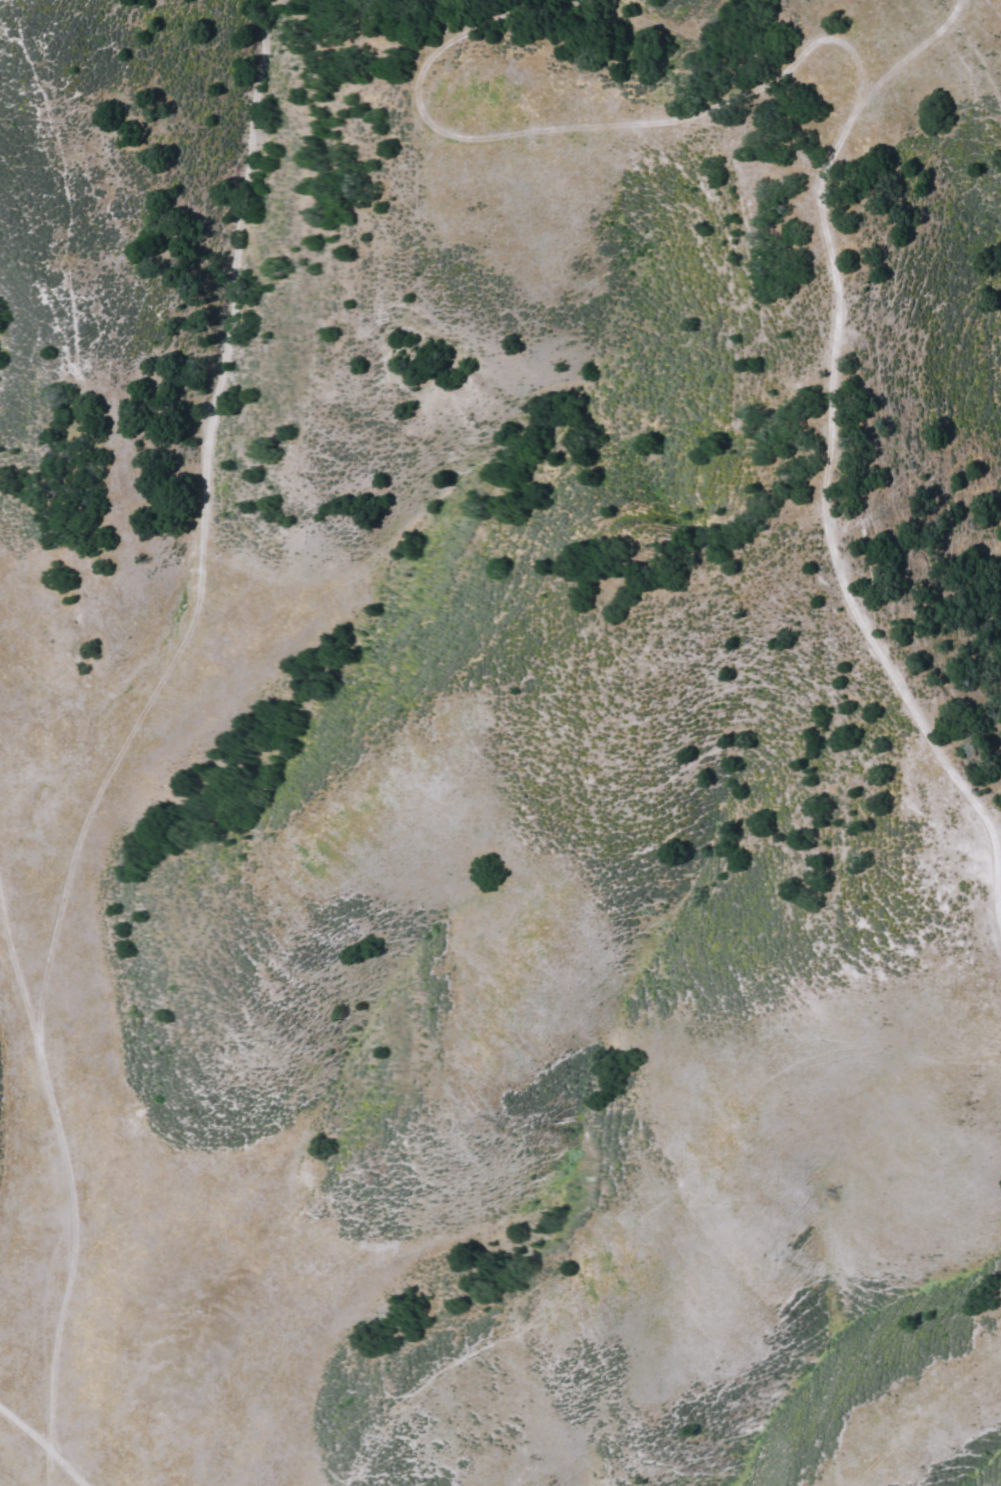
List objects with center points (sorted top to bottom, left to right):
road: (840, 137)
road: (135, 725)
road: (51, 1441)

